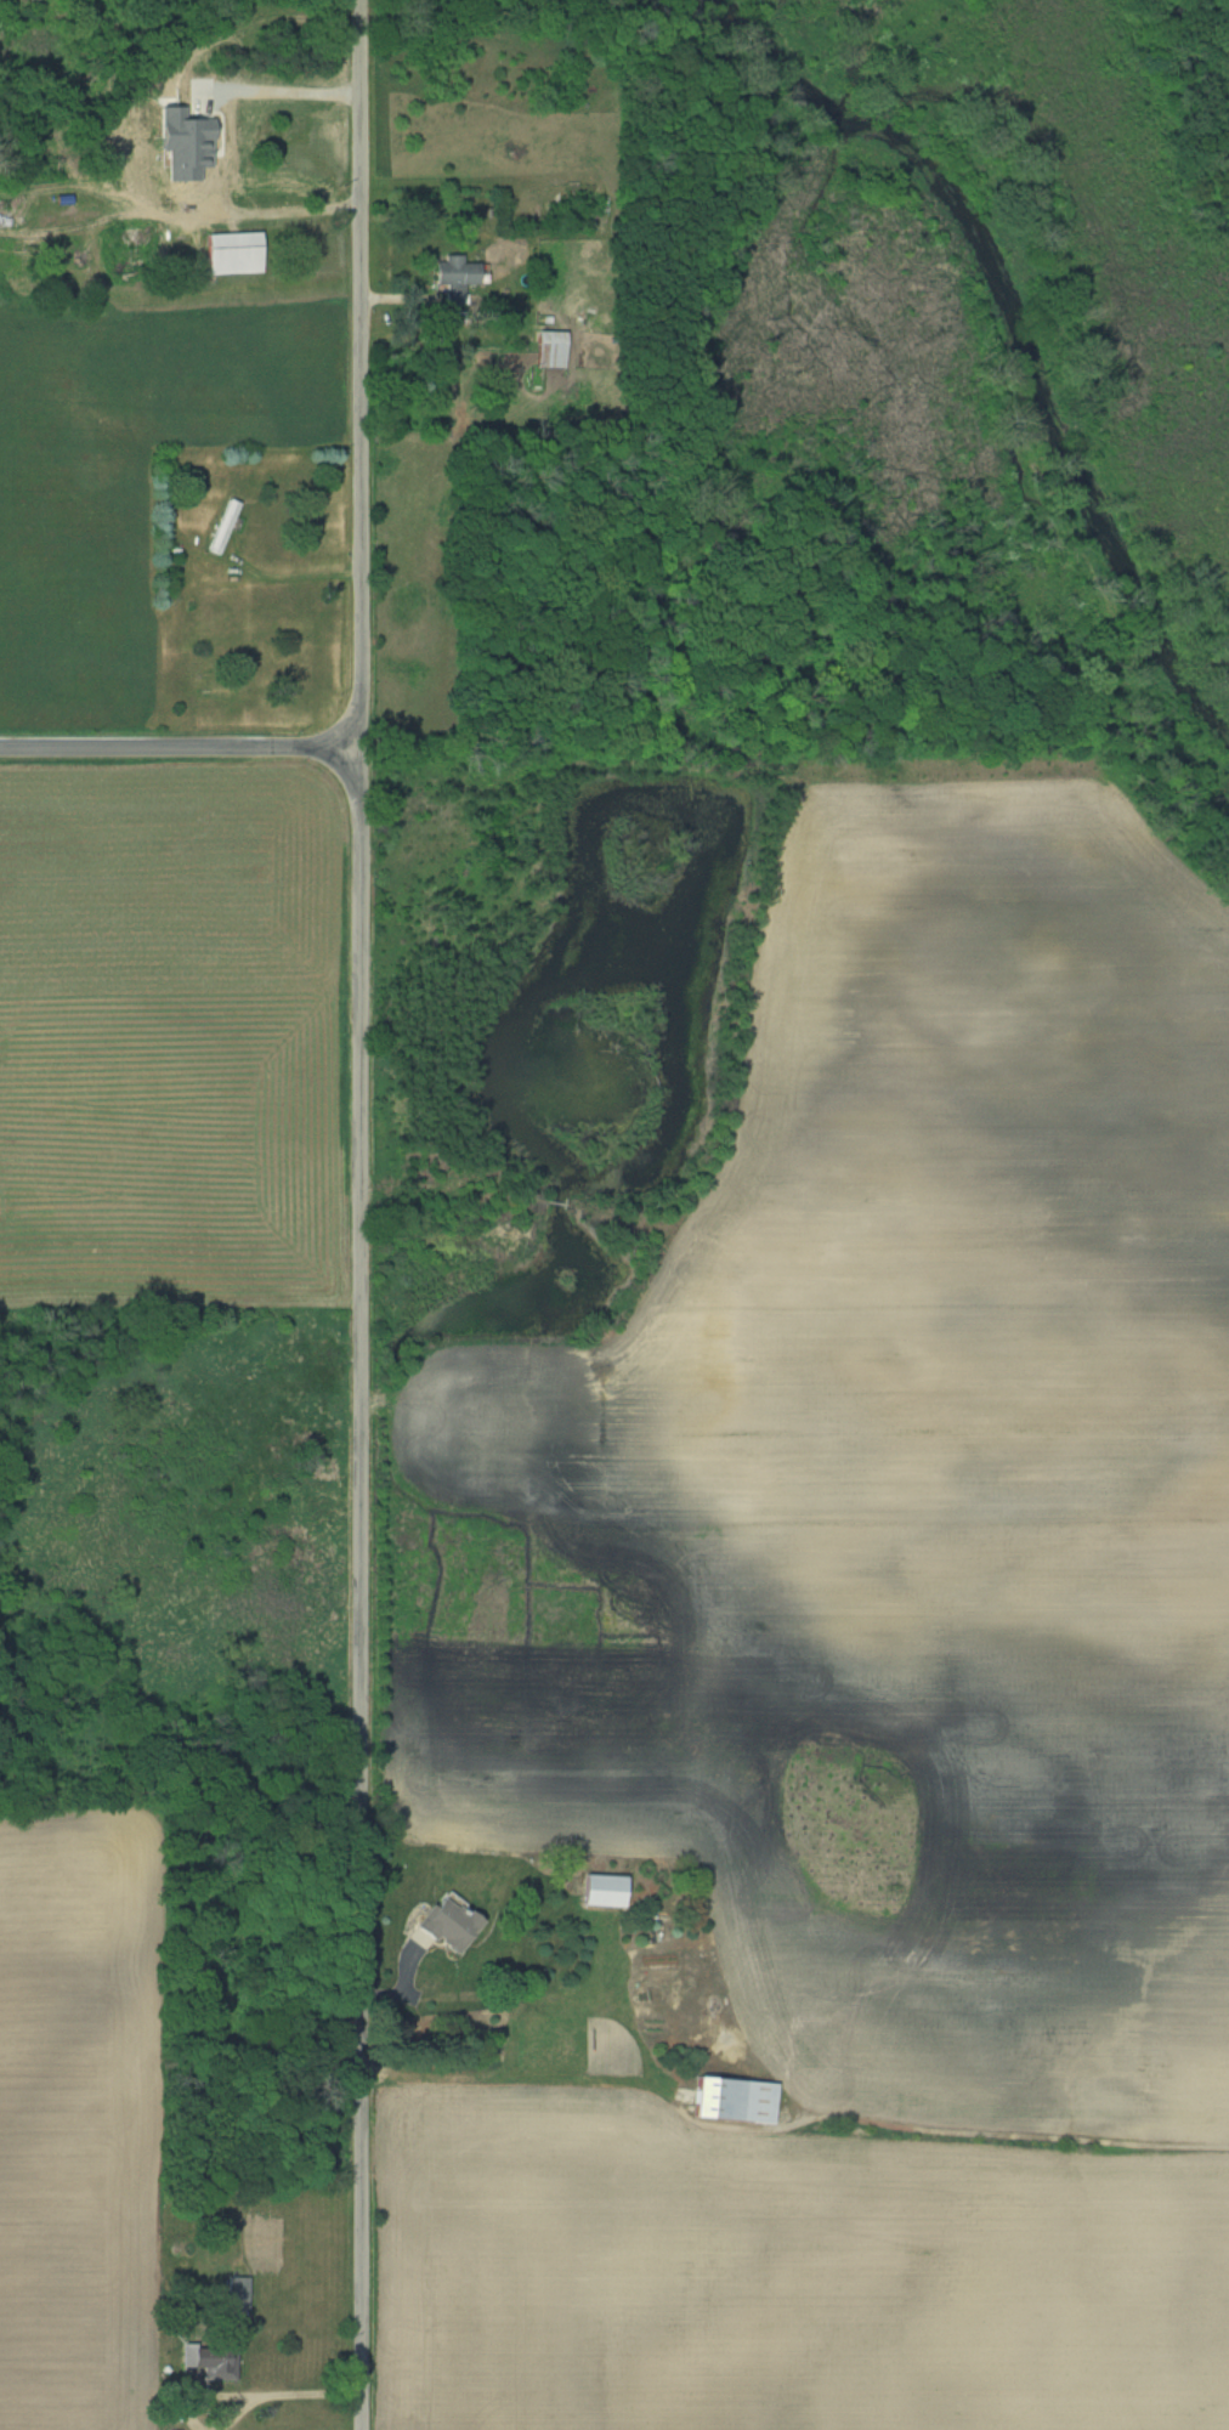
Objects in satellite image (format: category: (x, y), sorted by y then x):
building: (168, 146)
road: (270, 219)
building: (232, 251)
building: (452, 277)
building: (550, 349)
road: (181, 747)
road: (361, 1214)
building: (602, 1888)
building: (734, 2098)
building: (237, 2293)
building: (210, 2360)
road: (226, 2394)

